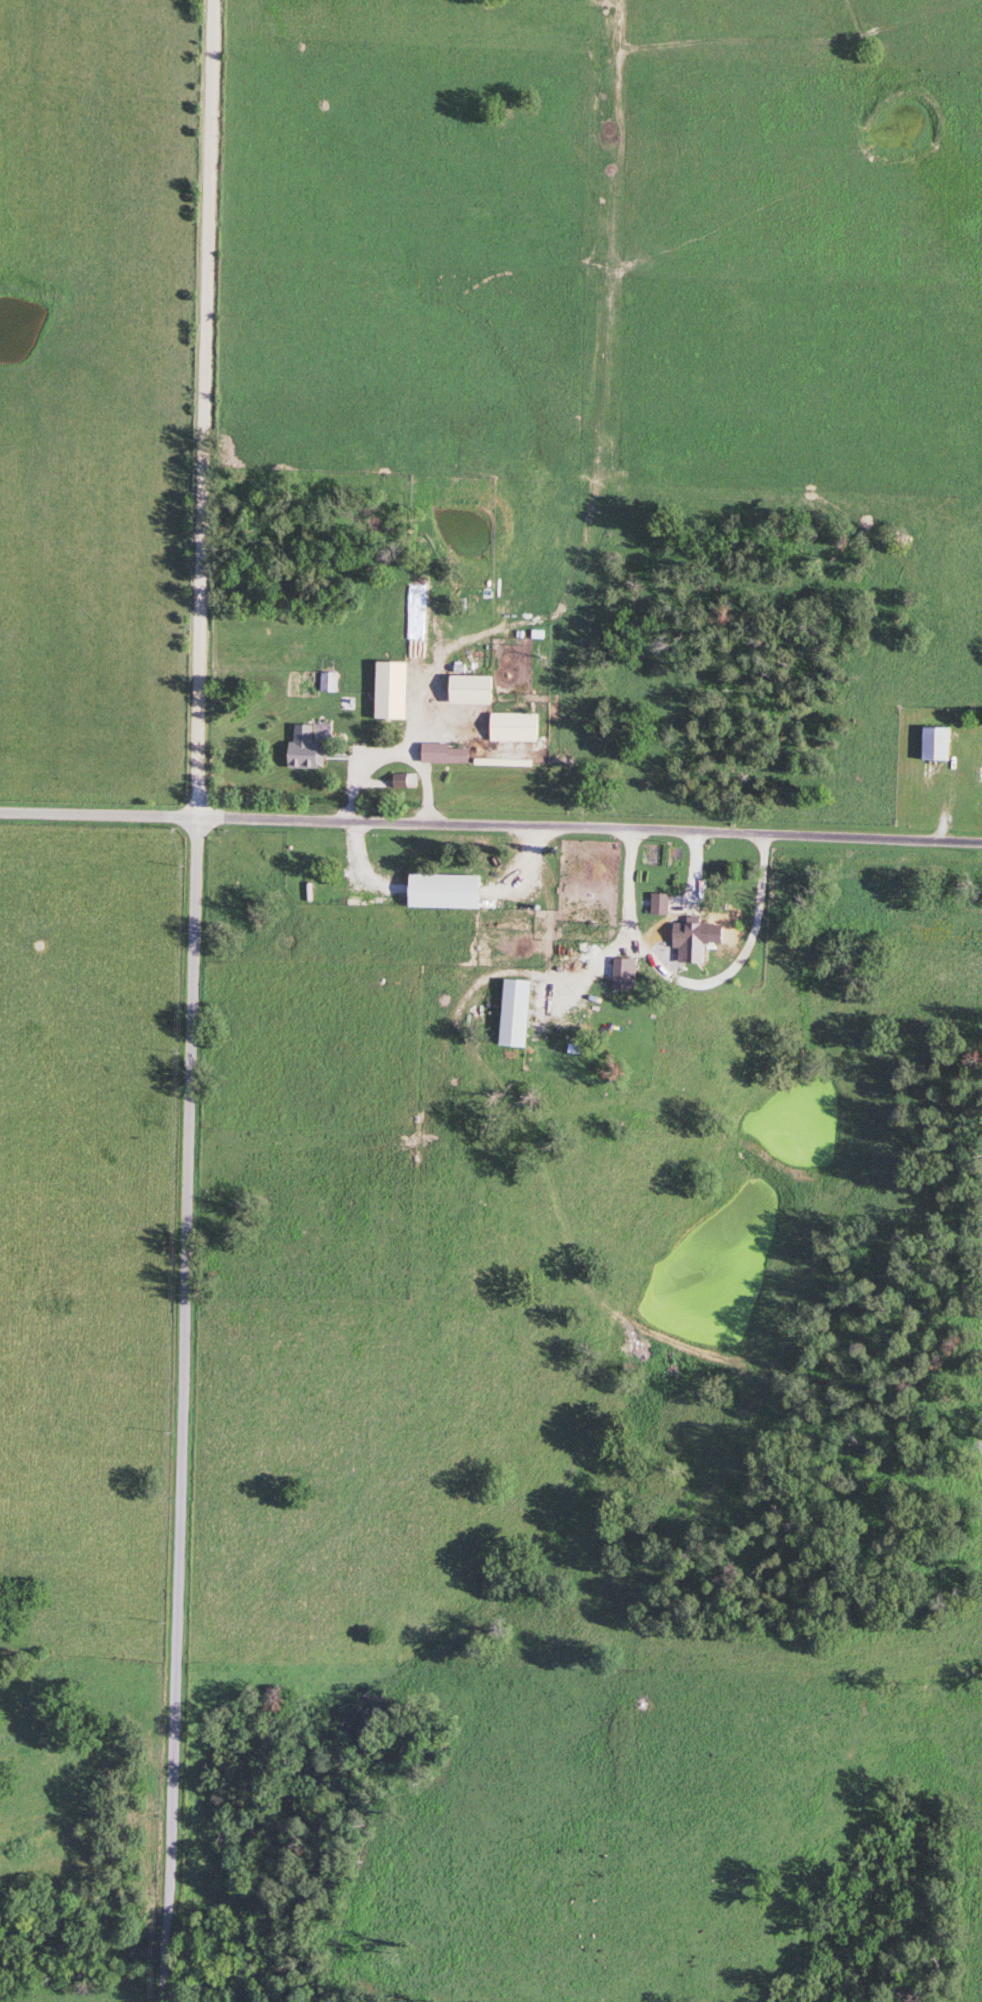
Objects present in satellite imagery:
building: (328, 680)
building: (472, 687)
building: (392, 688)
building: (514, 725)
building: (937, 741)
building: (306, 746)
building: (446, 751)
road: (389, 752)
building: (406, 778)
road: (491, 825)
building: (660, 901)
road: (621, 937)
building: (692, 938)
building: (571, 949)
road: (735, 964)
building: (625, 971)
road: (193, 1001)

